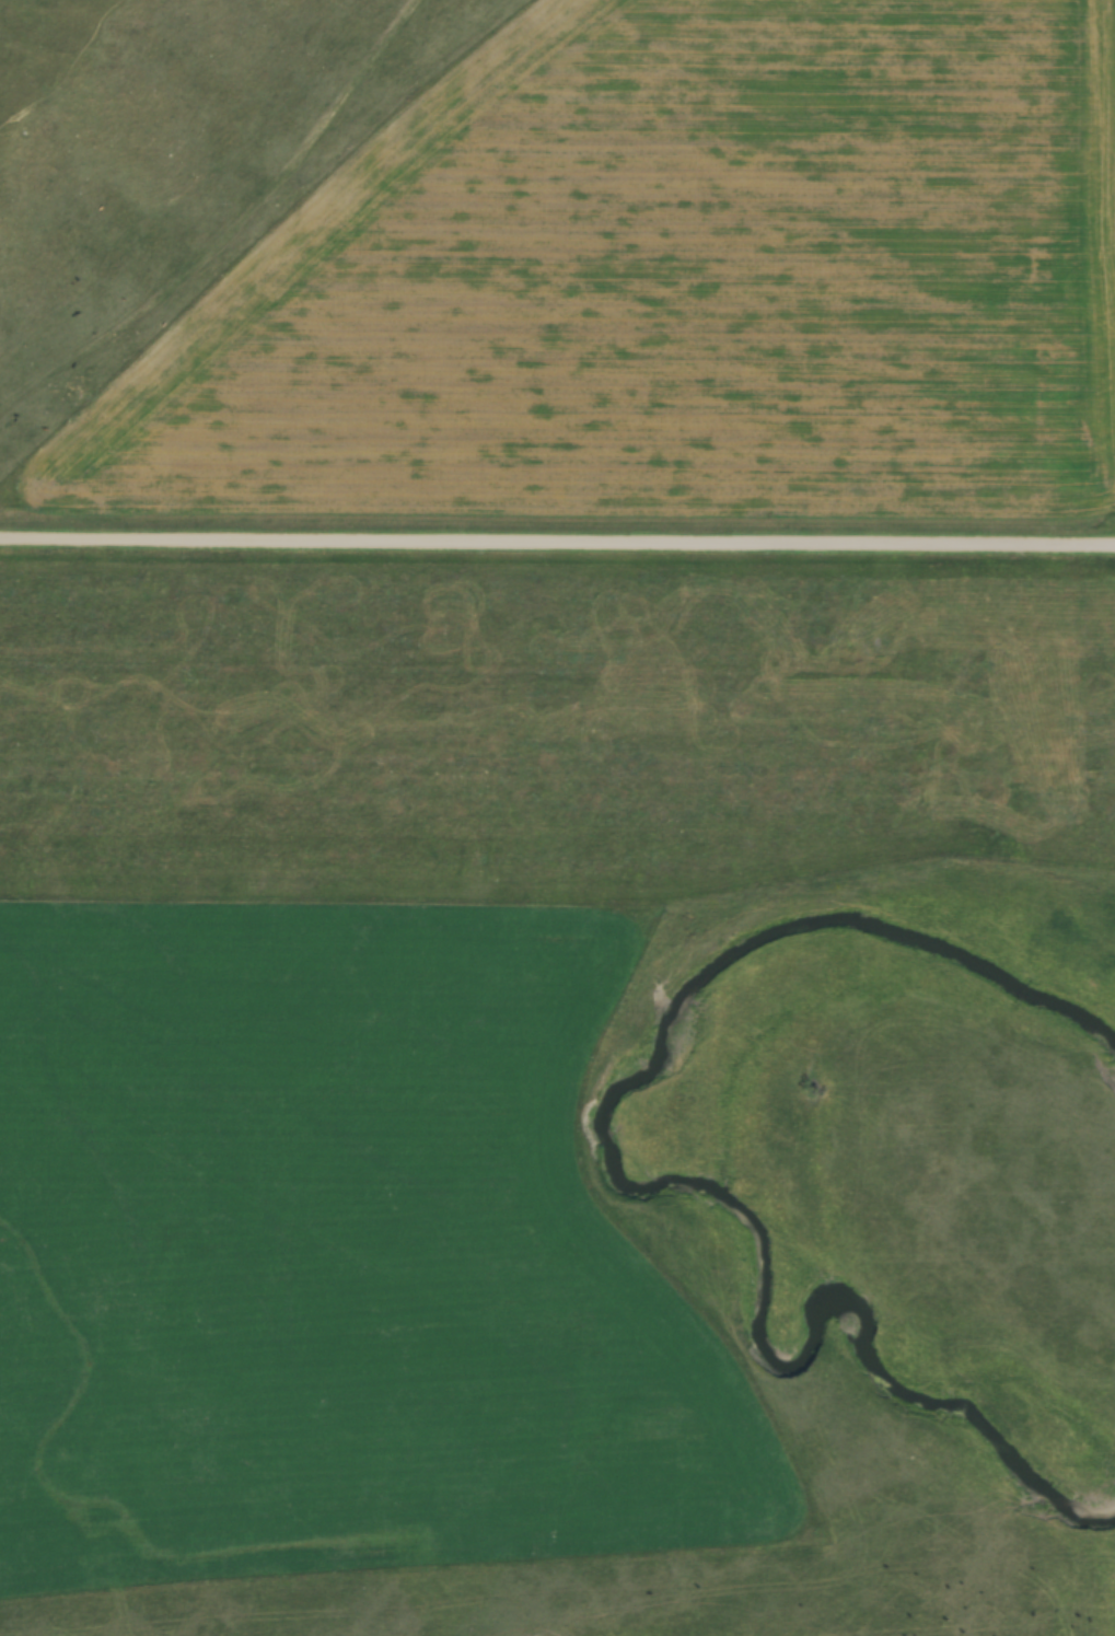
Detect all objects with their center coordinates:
road: (557, 536)

